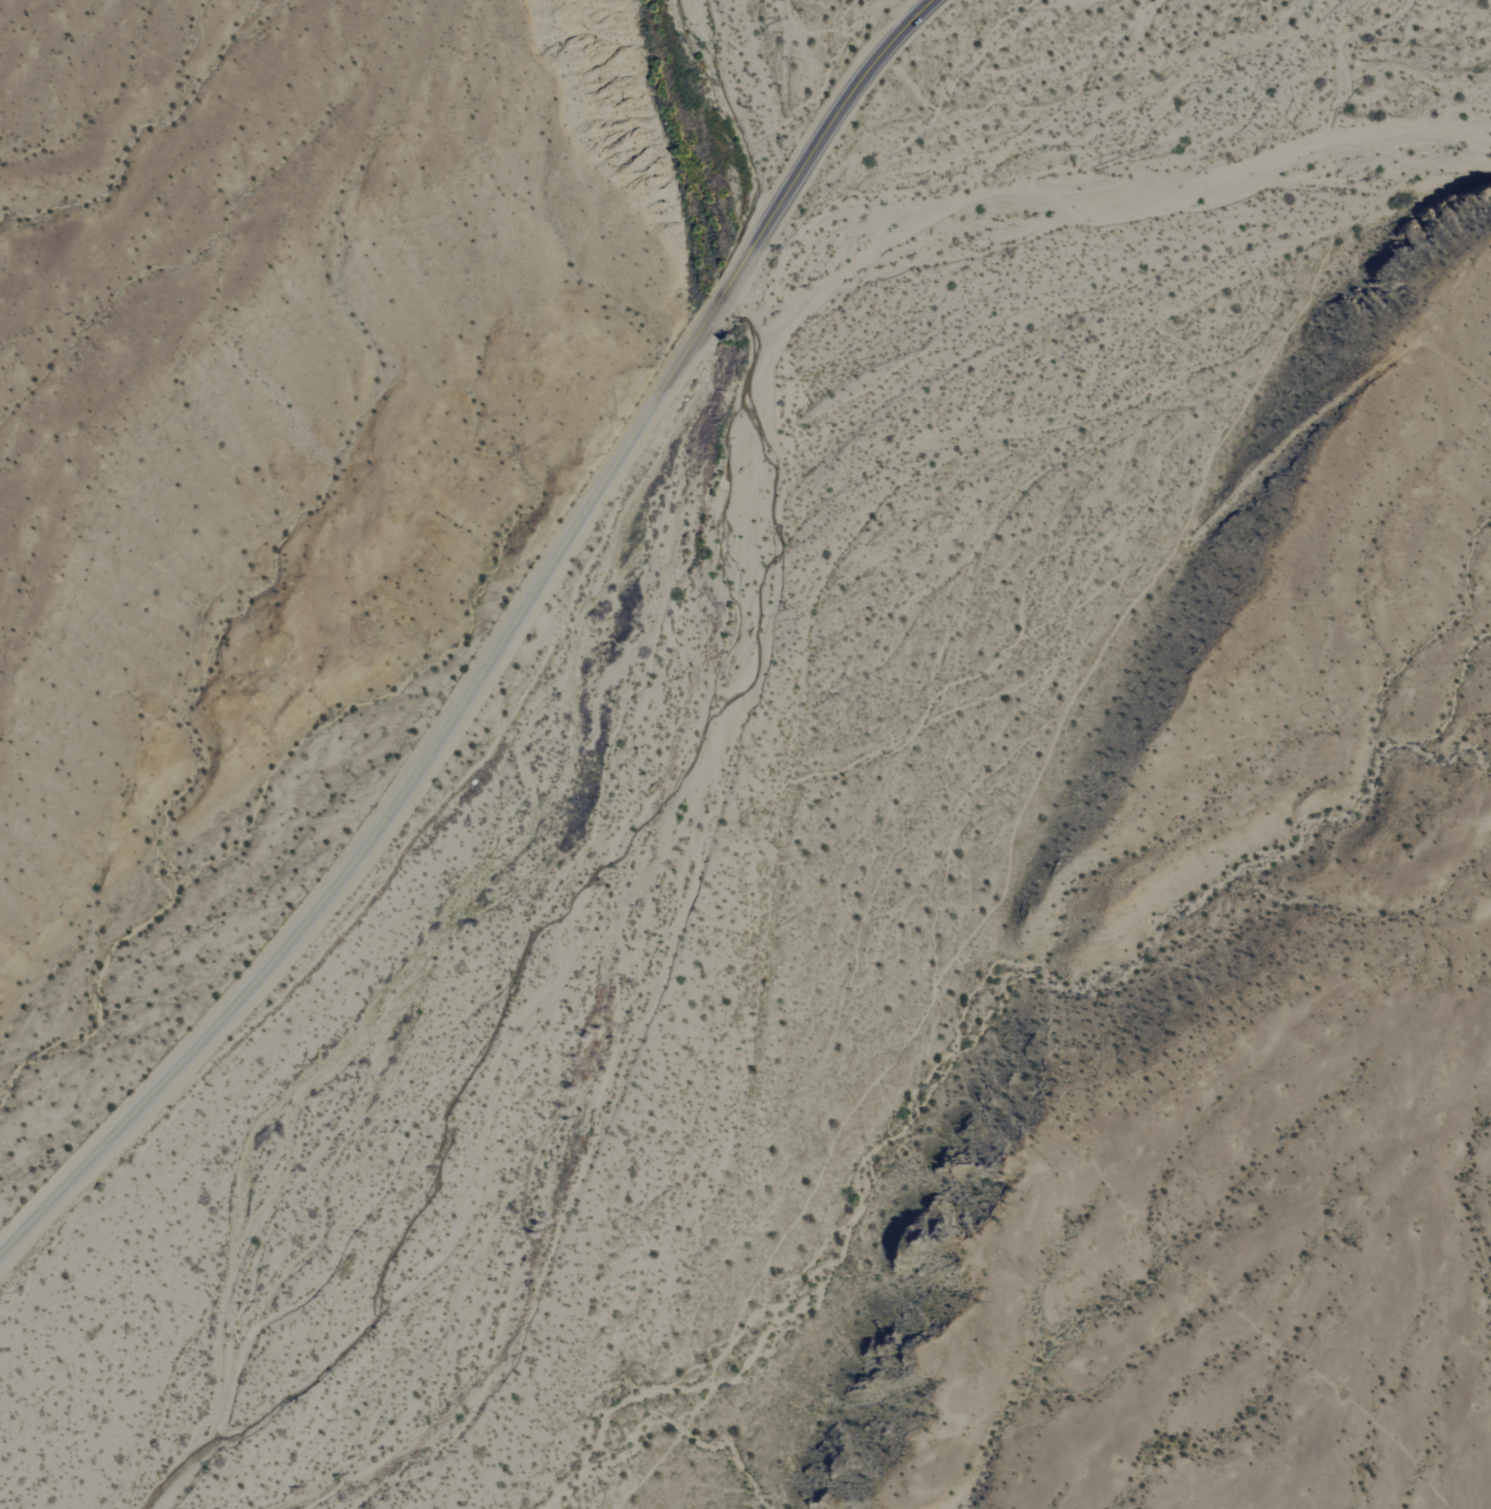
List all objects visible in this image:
road: (815, 31)
road: (497, 650)

